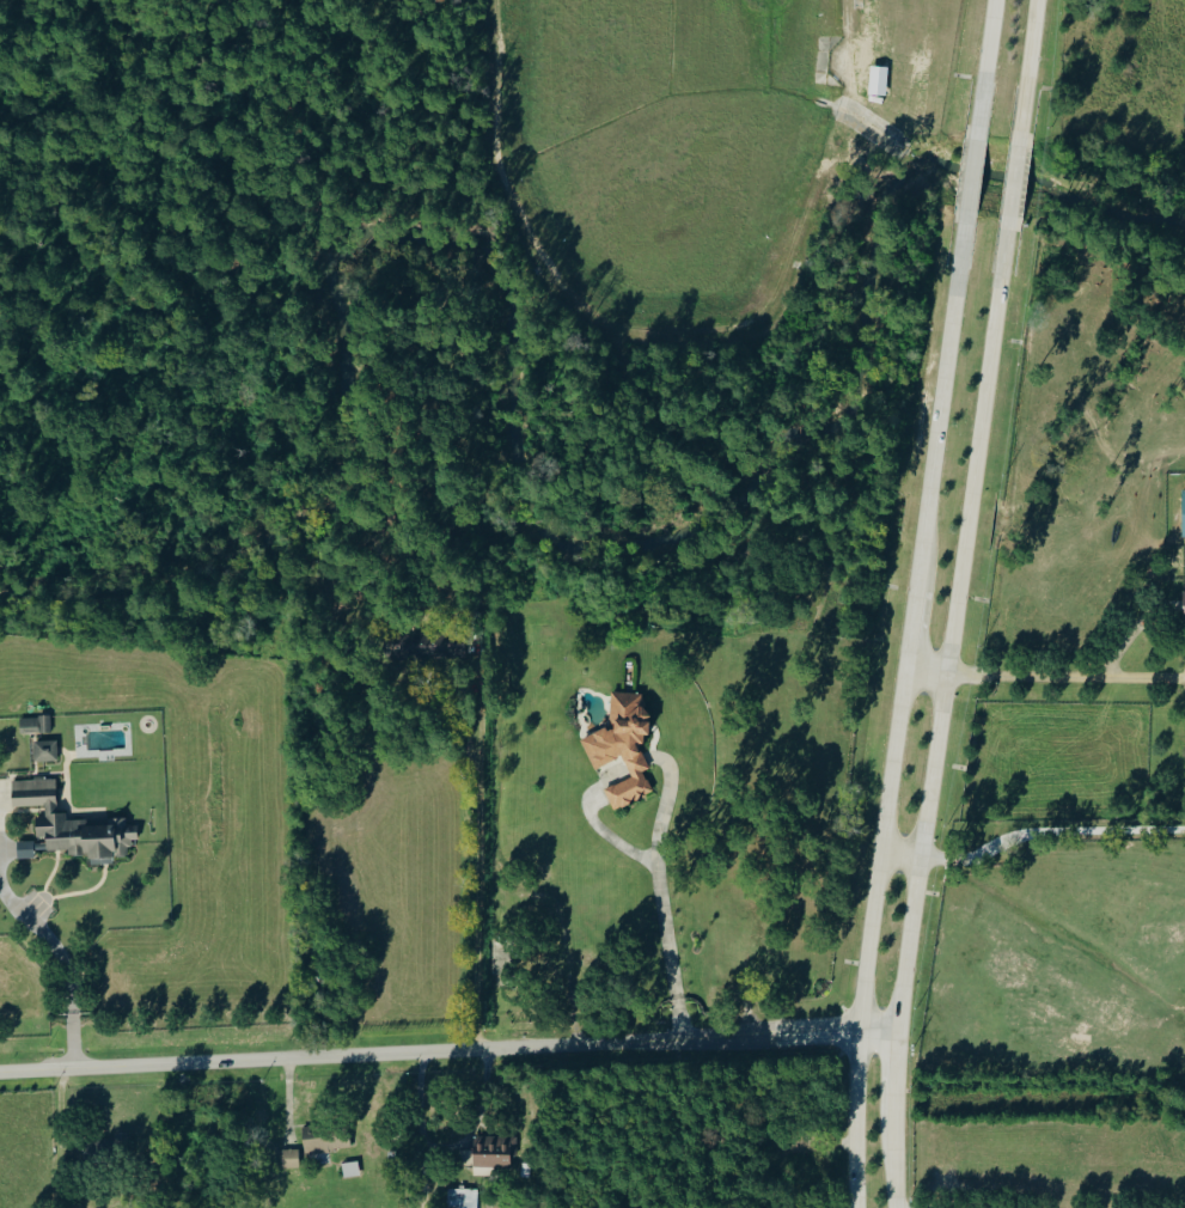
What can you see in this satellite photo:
road: (987, 66)
road: (1028, 68)
road: (971, 175)
road: (1014, 179)
road: (977, 447)
river: (518, 457)
building: (1184, 513)
building: (1181, 606)
building: (432, 647)
road: (926, 669)
road: (1065, 675)
road: (899, 710)
building: (36, 724)
building: (623, 746)
building: (47, 750)
building: (73, 824)
road: (598, 825)
road: (1050, 840)
building: (25, 849)
road: (902, 849)
road: (921, 850)
road: (482, 874)
road: (659, 893)
road: (62, 959)
road: (448, 1050)
road: (898, 1064)
road: (478, 1117)
road: (65, 1125)
road: (421, 1129)
building: (326, 1139)
building: (493, 1153)
road: (898, 1153)
building: (291, 1158)
building: (350, 1170)
building: (463, 1197)

